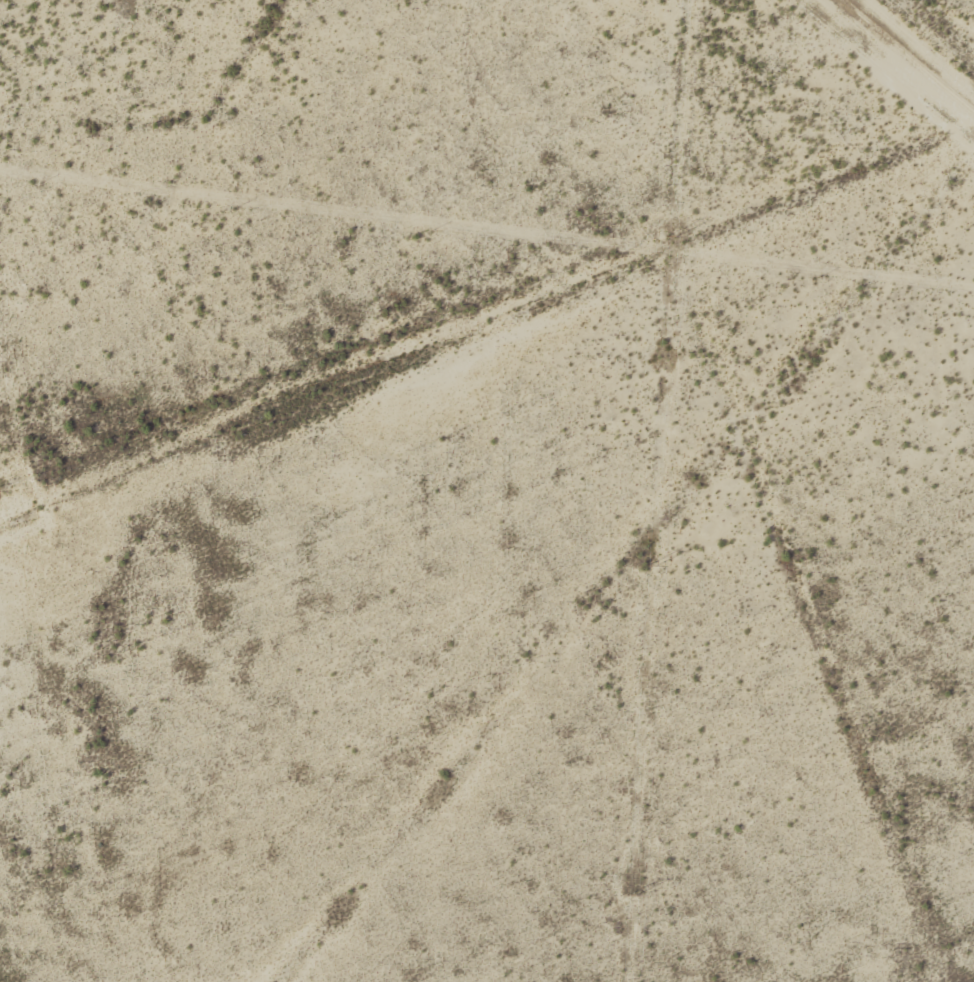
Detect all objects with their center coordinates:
road: (904, 56)
road: (972, 116)
power tower: (671, 237)
road: (488, 324)
power tower: (651, 566)
power tower: (632, 896)

